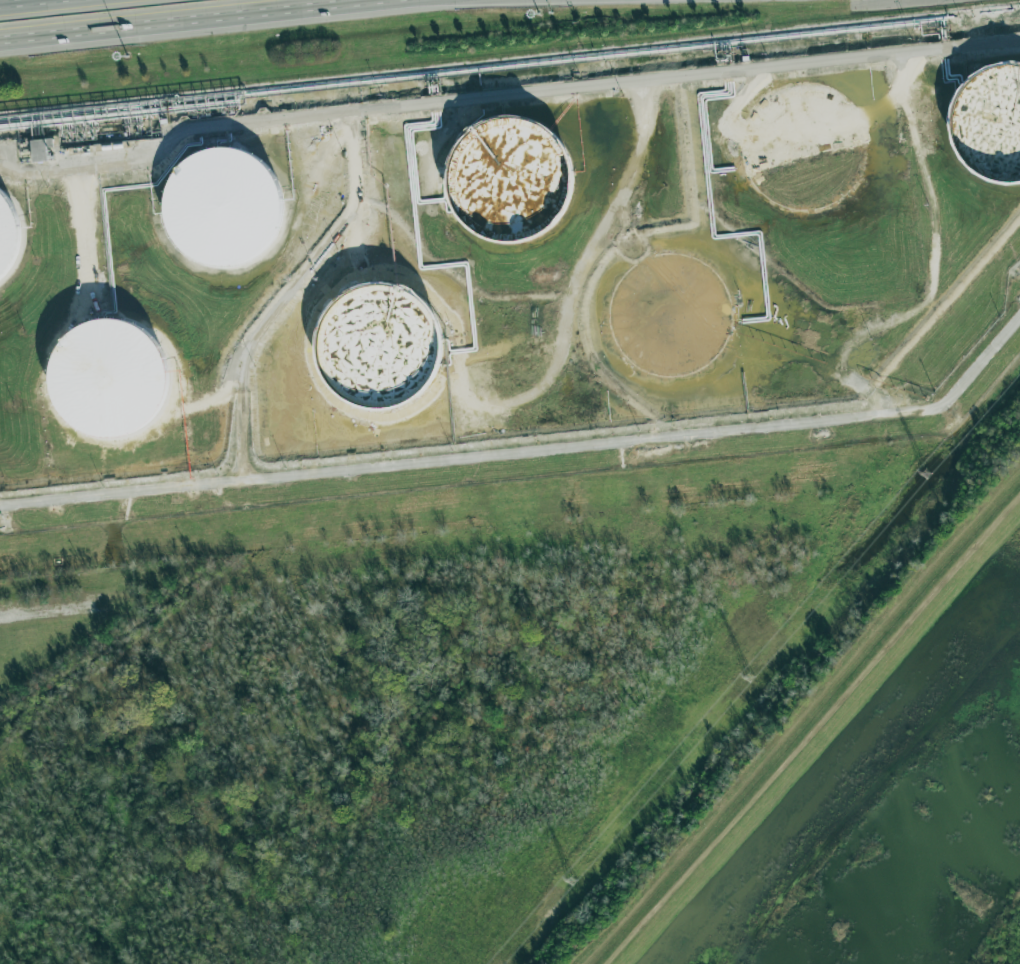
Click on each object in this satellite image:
road: (425, 1)
road: (528, 1)
road: (31, 3)
road: (208, 24)
road: (508, 99)
building: (988, 125)
building: (40, 148)
building: (501, 178)
building: (216, 207)
road: (85, 229)
building: (3, 234)
road: (611, 252)
road: (940, 271)
road: (297, 294)
building: (371, 345)
building: (103, 382)
road: (172, 449)
road: (530, 449)
road: (142, 469)
power tower: (924, 473)
road: (33, 613)
power tower: (746, 682)
power tower: (571, 881)

